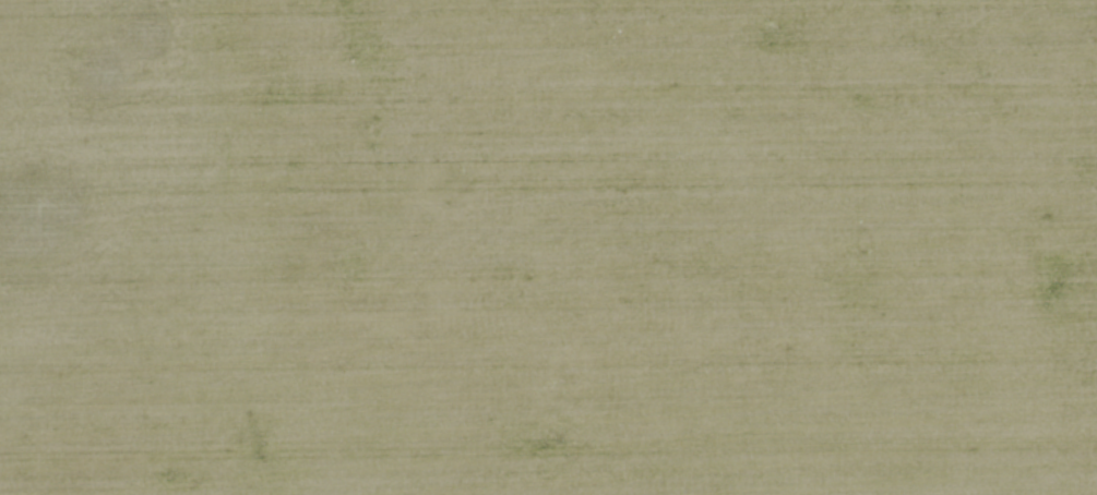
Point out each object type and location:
crop: (548, 247)

